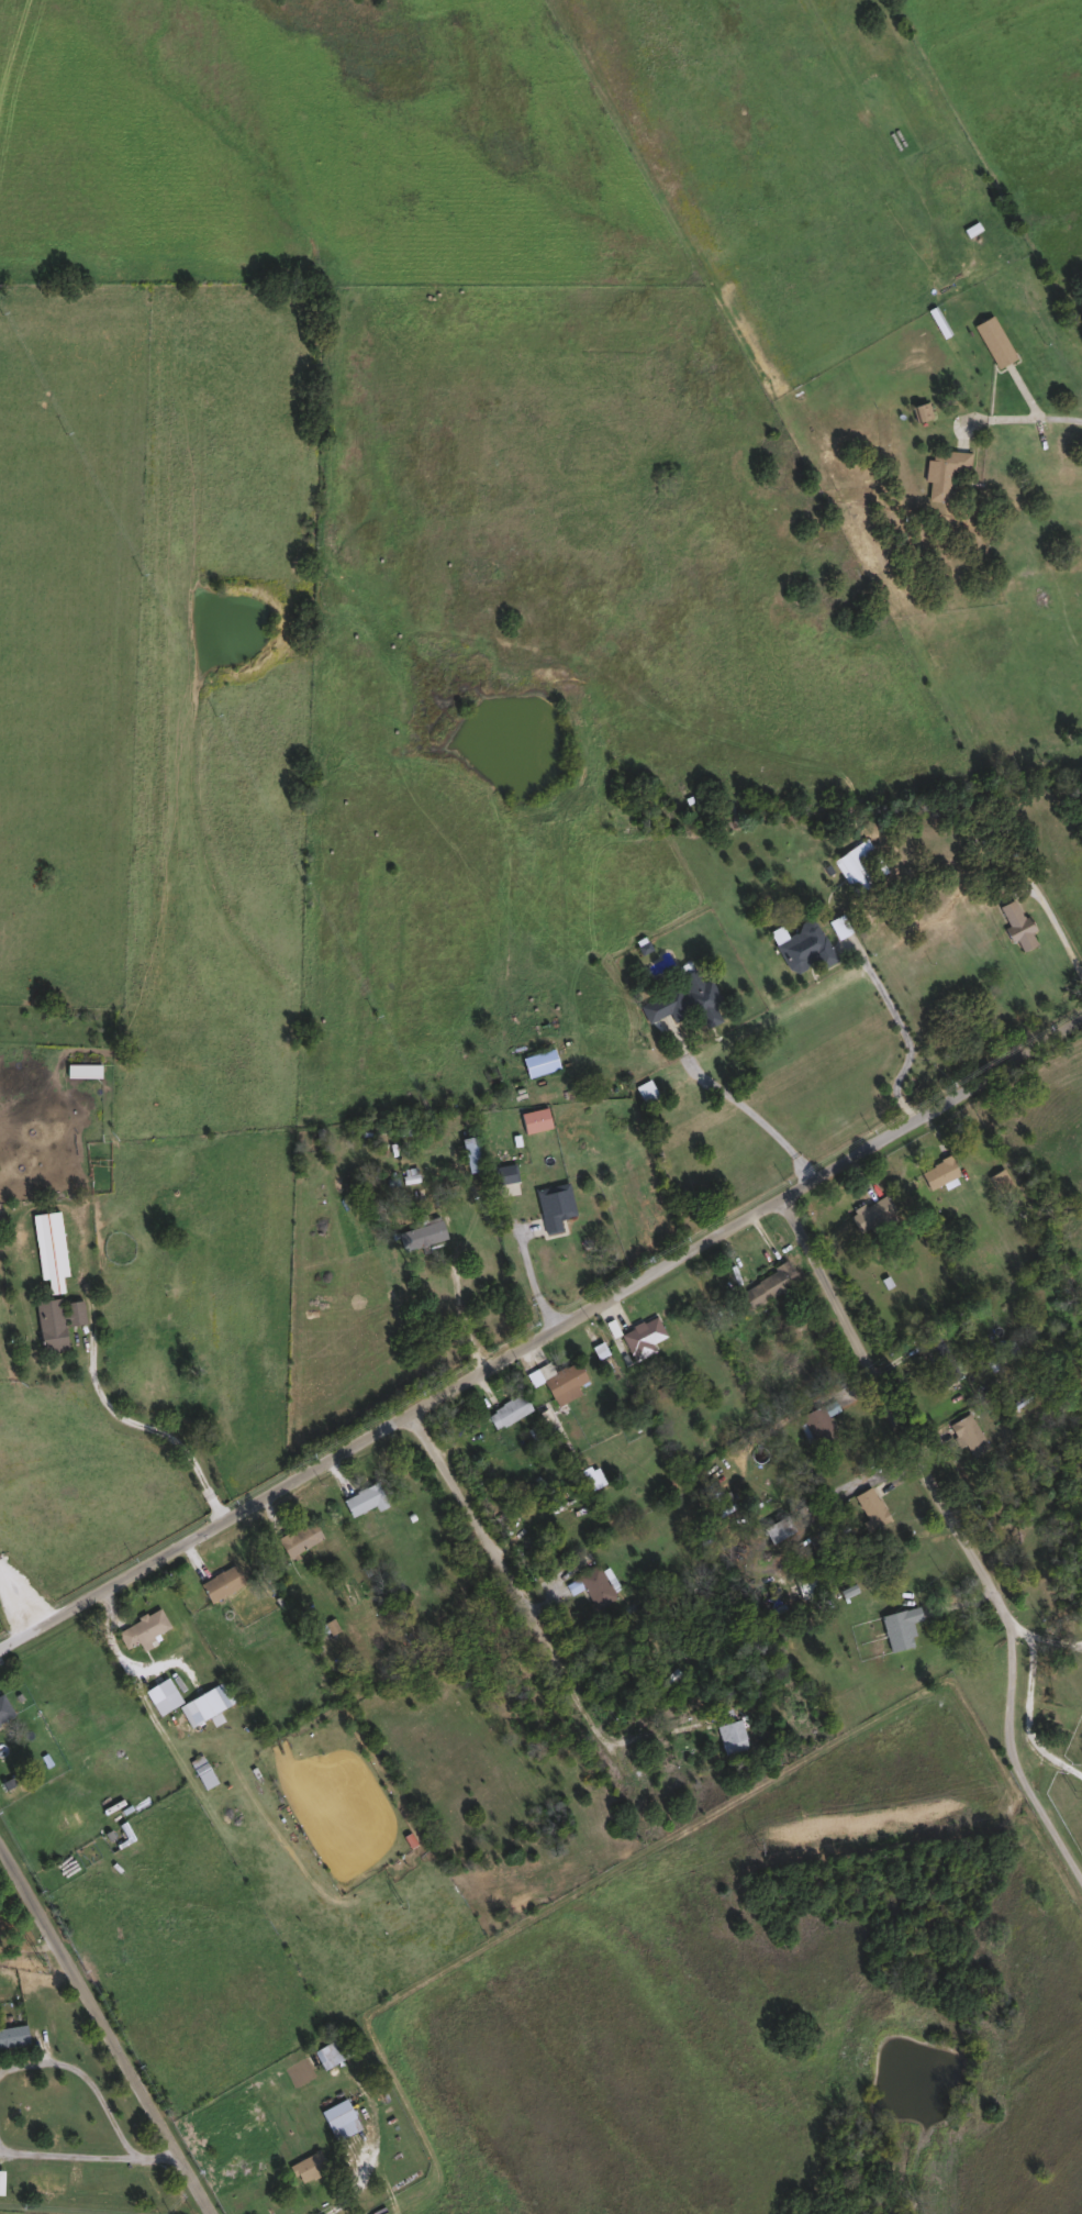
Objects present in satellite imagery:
building: (994, 340)
road: (1045, 419)
building: (944, 472)
building: (860, 865)
road: (1052, 920)
building: (838, 925)
building: (1017, 925)
building: (803, 945)
building: (687, 998)
road: (900, 1028)
building: (538, 1061)
building: (645, 1088)
road: (749, 1106)
building: (534, 1119)
building: (469, 1152)
building: (938, 1171)
building: (504, 1172)
building: (1000, 1180)
building: (553, 1205)
building: (871, 1213)
building: (421, 1231)
building: (48, 1249)
road: (531, 1278)
building: (767, 1285)
road: (459, 1309)
building: (55, 1321)
road: (543, 1332)
building: (642, 1337)
building: (941, 1360)
building: (1003, 1361)
building: (564, 1383)
road: (894, 1396)
building: (506, 1412)
road: (132, 1421)
building: (817, 1426)
building: (969, 1436)
building: (715, 1495)
building: (364, 1498)
building: (869, 1507)
building: (774, 1529)
building: (298, 1538)
road: (509, 1581)
building: (221, 1583)
building: (806, 1585)
building: (594, 1586)
road: (16, 1598)
building: (328, 1626)
building: (900, 1627)
building: (143, 1630)
road: (1047, 1640)
road: (124, 1663)
building: (189, 1701)
building: (3, 1708)
road: (1028, 1713)
building: (727, 1730)
road: (659, 1734)
road: (1013, 1740)
building: (201, 1771)
power tower: (1074, 1793)
power tower: (758, 1845)
power tower: (400, 1903)
road: (27, 1946)
road: (108, 2028)
building: (12, 2034)
building: (330, 2051)
road: (89, 2069)
building: (338, 2118)
road: (161, 2149)
road: (371, 2149)
road: (65, 2151)
building: (309, 2166)
building: (43, 2180)

